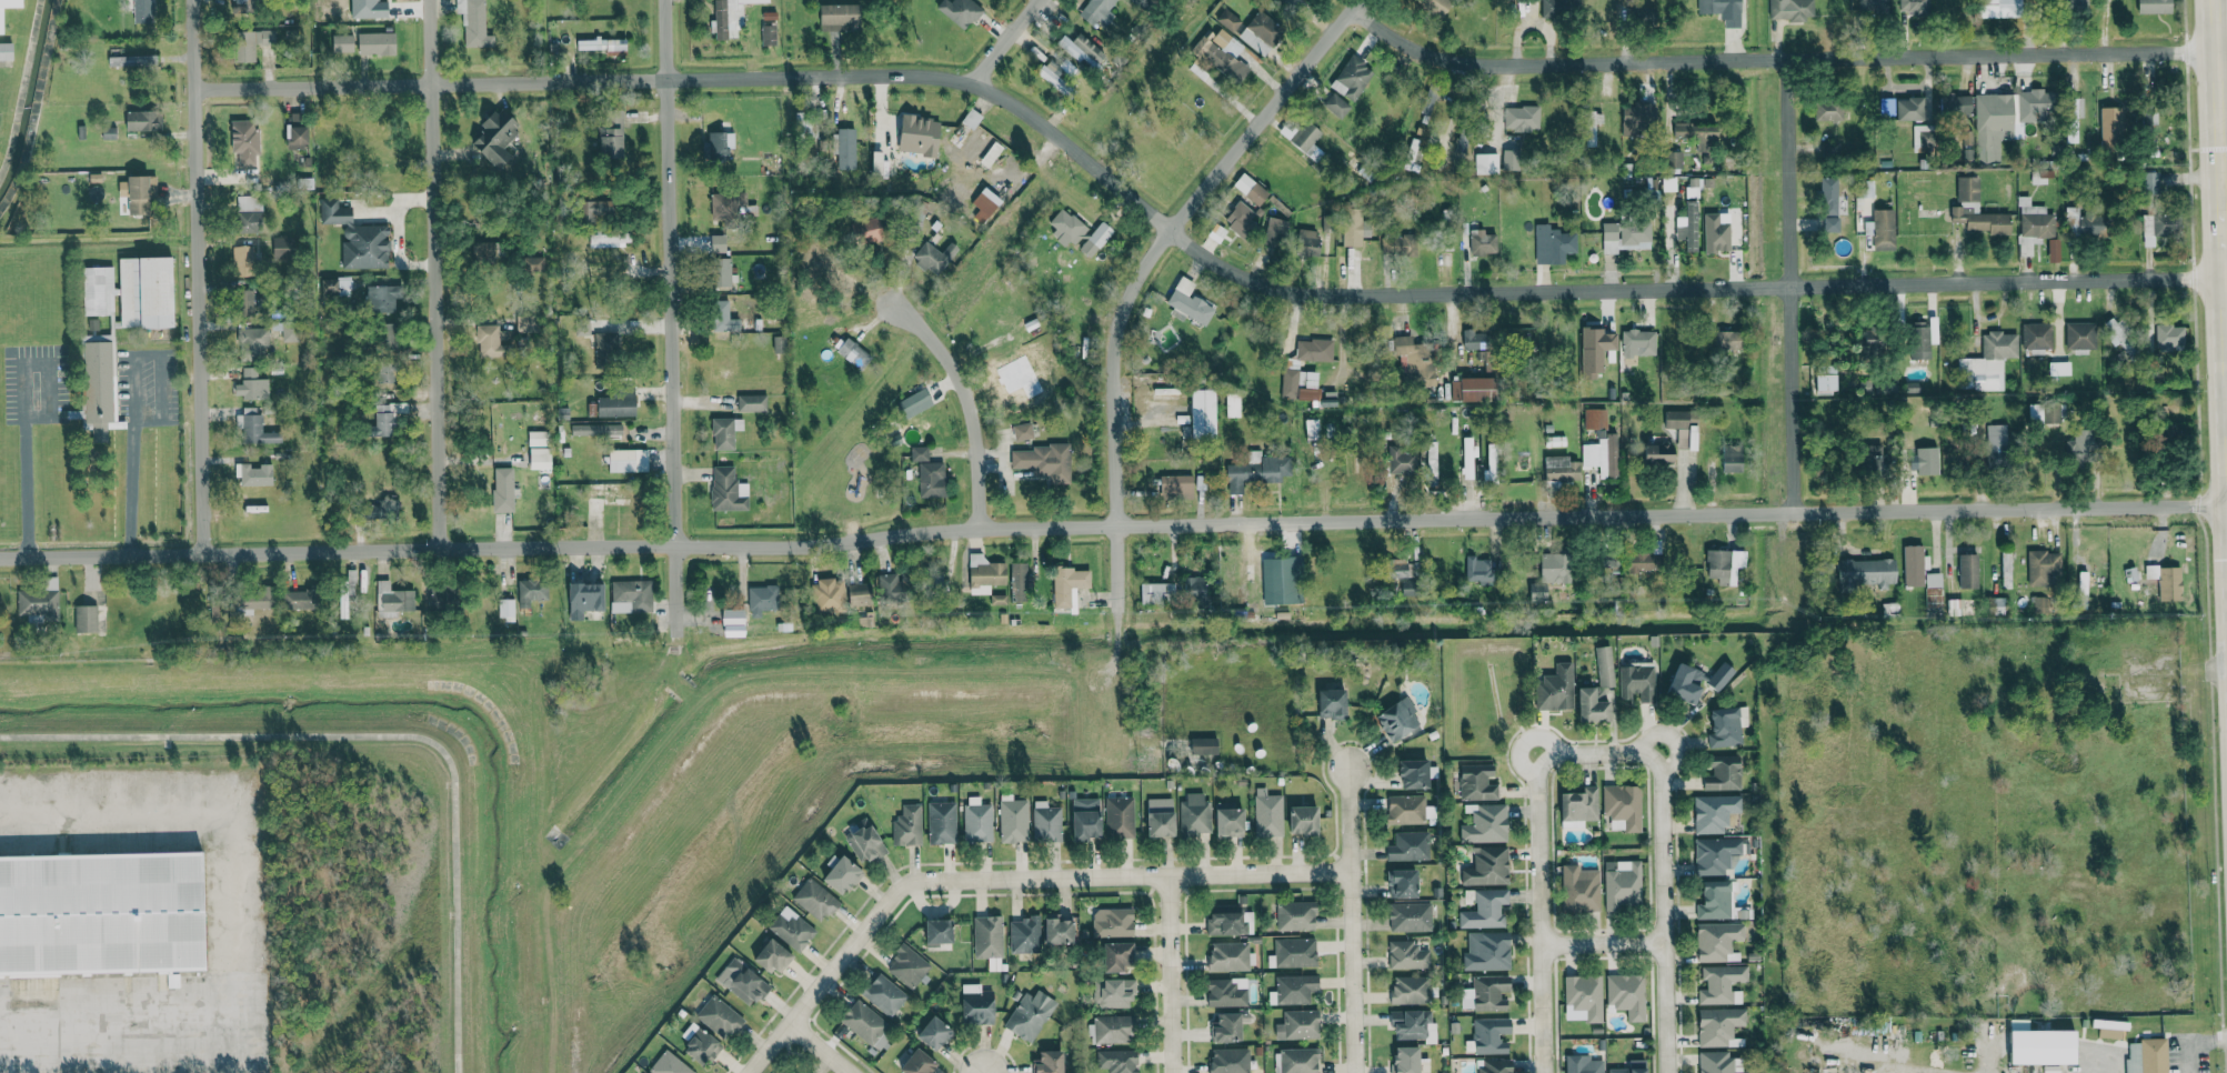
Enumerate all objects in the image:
building: (1282, 0)
building: (1138, 2)
building: (2076, 2)
building: (130, 4)
building: (1434, 6)
building: (1870, 6)
building: (1913, 6)
building: (2154, 6)
building: (1557, 7)
building: (1999, 8)
building: (1789, 9)
building: (143, 10)
building: (960, 11)
building: (1723, 11)
building: (1100, 13)
building: (730, 17)
building: (839, 17)
building: (1, 20)
building: (1228, 20)
building: (474, 22)
building: (1261, 32)
road: (1004, 41)
building: (342, 42)
building: (248, 43)
building: (377, 43)
building: (603, 44)
building: (1079, 48)
building: (1233, 48)
building: (6, 51)
building: (1216, 56)
building: (130, 58)
road: (1775, 59)
building: (1057, 77)
building: (1352, 78)
building: (1428, 104)
building: (1955, 104)
building: (2032, 104)
building: (1336, 106)
building: (1902, 108)
building: (1828, 111)
building: (1522, 117)
building: (1638, 118)
building: (2073, 118)
road: (2223, 118)
building: (143, 120)
building: (1989, 126)
building: (1591, 127)
building: (2109, 128)
building: (295, 132)
building: (919, 134)
building: (1698, 134)
building: (612, 136)
building: (495, 137)
building: (1306, 140)
building: (244, 142)
building: (974, 142)
building: (720, 144)
building: (844, 147)
building: (1830, 150)
building: (1413, 156)
building: (1511, 159)
building: (1674, 159)
building: (1486, 162)
road: (1787, 172)
building: (1250, 189)
building: (140, 192)
building: (1829, 195)
road: (2221, 198)
building: (984, 204)
building: (730, 205)
building: (596, 208)
building: (1975, 210)
building: (249, 213)
building: (1243, 219)
building: (2034, 220)
building: (2085, 222)
building: (1830, 224)
building: (1065, 227)
building: (1353, 228)
building: (1687, 228)
building: (2159, 228)
building: (1883, 229)
building: (867, 230)
building: (1275, 232)
building: (1716, 232)
building: (1625, 235)
building: (358, 238)
building: (1096, 239)
building: (609, 240)
building: (1304, 242)
building: (1482, 242)
building: (718, 243)
building: (1398, 244)
building: (1553, 244)
road: (1187, 245)
building: (282, 248)
building: (2053, 250)
building: (934, 257)
building: (243, 260)
road: (1141, 269)
building: (722, 272)
road: (432, 274)
road: (197, 275)
building: (335, 287)
building: (98, 291)
building: (146, 292)
building: (382, 298)
building: (245, 302)
building: (1190, 302)
road: (670, 318)
building: (722, 318)
building: (582, 328)
building: (1524, 334)
building: (387, 335)
building: (2079, 335)
building: (2036, 337)
building: (2169, 337)
building: (2118, 339)
building: (1474, 340)
building: (1724, 340)
building: (1918, 340)
building: (491, 341)
building: (1638, 342)
building: (1873, 342)
building: (253, 343)
building: (779, 344)
building: (606, 350)
building: (1314, 350)
building: (1594, 350)
building: (852, 352)
building: (1414, 362)
building: (1987, 362)
building: (2058, 368)
building: (387, 372)
building: (1825, 379)
building: (251, 385)
building: (1300, 385)
building: (1473, 389)
road: (132, 398)
road: (1790, 400)
building: (616, 402)
building: (915, 402)
building: (751, 403)
road: (966, 404)
road: (22, 409)
building: (2045, 413)
building: (1198, 415)
building: (1595, 419)
building: (383, 421)
building: (254, 427)
building: (1311, 429)
building: (1681, 429)
building: (596, 430)
building: (1022, 431)
building: (724, 432)
building: (538, 438)
building: (2079, 447)
building: (1996, 450)
building: (919, 453)
building: (1658, 454)
building: (1468, 455)
building: (1602, 457)
building: (540, 458)
building: (1732, 459)
building: (628, 460)
building: (1401, 460)
building: (1872, 460)
building: (1923, 461)
building: (1044, 462)
building: (1431, 463)
building: (1491, 464)
building: (1561, 469)
building: (1256, 471)
building: (253, 474)
building: (932, 479)
building: (1176, 487)
building: (502, 489)
building: (728, 490)
road: (1113, 525)
building: (1608, 559)
building: (1639, 562)
building: (1724, 565)
building: (1914, 565)
building: (2043, 566)
building: (1401, 568)
building: (1555, 568)
building: (1478, 570)
building: (1967, 571)
building: (984, 572)
building: (1866, 572)
building: (1281, 580)
building: (2166, 581)
building: (1020, 582)
building: (1069, 584)
building: (1933, 585)
building: (892, 589)
building: (531, 591)
building: (1195, 591)
building: (1156, 593)
building: (857, 594)
building: (631, 595)
building: (826, 595)
building: (300, 599)
building: (584, 599)
building: (761, 599)
building: (252, 600)
building: (392, 600)
building: (38, 603)
building: (2046, 604)
building: (505, 609)
building: (86, 619)
building: (733, 622)
building: (1719, 676)
building: (1637, 682)
building: (1685, 683)
building: (1555, 689)
building: (1596, 690)
building: (1332, 703)
building: (1397, 719)
building: (1726, 726)
road: (385, 736)
building: (1203, 745)
road: (1599, 753)
building: (1415, 773)
building: (1723, 773)
building: (1476, 783)
building: (1622, 808)
building: (1405, 810)
building: (1714, 812)
building: (1267, 813)
building: (1194, 815)
building: (1118, 818)
building: (1160, 818)
building: (1085, 819)
building: (976, 820)
building: (1013, 820)
road: (112, 821)
building: (1303, 821)
building: (1045, 822)
building: (1228, 822)
building: (941, 823)
building: (1484, 823)
building: (907, 825)
building: (864, 842)
building: (1408, 846)
building: (1714, 855)
building: (1486, 866)
building: (842, 874)
road: (1004, 878)
building: (1402, 883)
building: (1622, 884)
building: (1579, 889)
building: (814, 900)
building: (1714, 900)
building: (1485, 909)
road: (1666, 912)
road: (1542, 913)
building: (102, 914)
building: (1295, 916)
building: (1408, 916)
road: (228, 920)
road: (1350, 921)
building: (1112, 922)
building: (1226, 924)
building: (791, 929)
building: (1057, 930)
building: (937, 932)
building: (1024, 935)
building: (987, 936)
road: (1605, 941)
building: (1486, 951)
building: (1294, 952)
building: (1406, 955)
building: (773, 956)
building: (1116, 956)
building: (1228, 956)
building: (907, 966)
road: (1168, 974)
building: (741, 982)
building: (1721, 984)
building: (1295, 989)
building: (1408, 990)
building: (1226, 992)
building: (1487, 992)
building: (1113, 993)
building: (884, 994)
building: (1626, 994)
building: (1583, 997)
building: (976, 1005)
building: (1029, 1015)
building: (719, 1017)
building: (863, 1022)
road: (116, 1024)
building: (1410, 1024)
building: (1297, 1025)
building: (1717, 1025)
building: (1227, 1027)
building: (1113, 1029)
building: (2109, 1029)
building: (934, 1033)
building: (1489, 1035)
road: (2195, 1042)
building: (700, 1045)
building: (2042, 1047)
road: (819, 1049)
building: (2148, 1055)
building: (1117, 1061)
building: (1228, 1061)
building: (1298, 1061)
building: (1407, 1061)
building: (1049, 1062)
building: (917, 1063)
building: (669, 1064)
building: (1582, 1064)
building: (1495, 1065)
building: (1631, 1067)
road: (1912, 1069)

